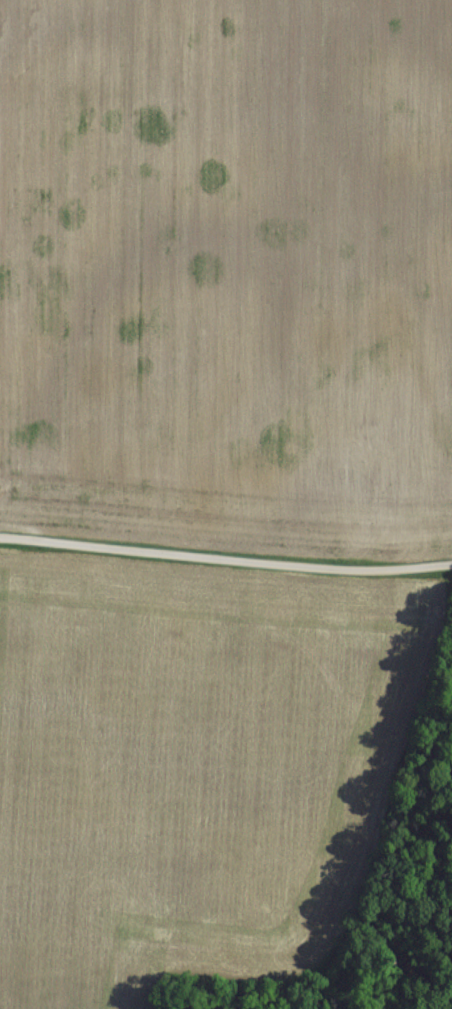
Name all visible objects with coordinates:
road: (225, 555)

